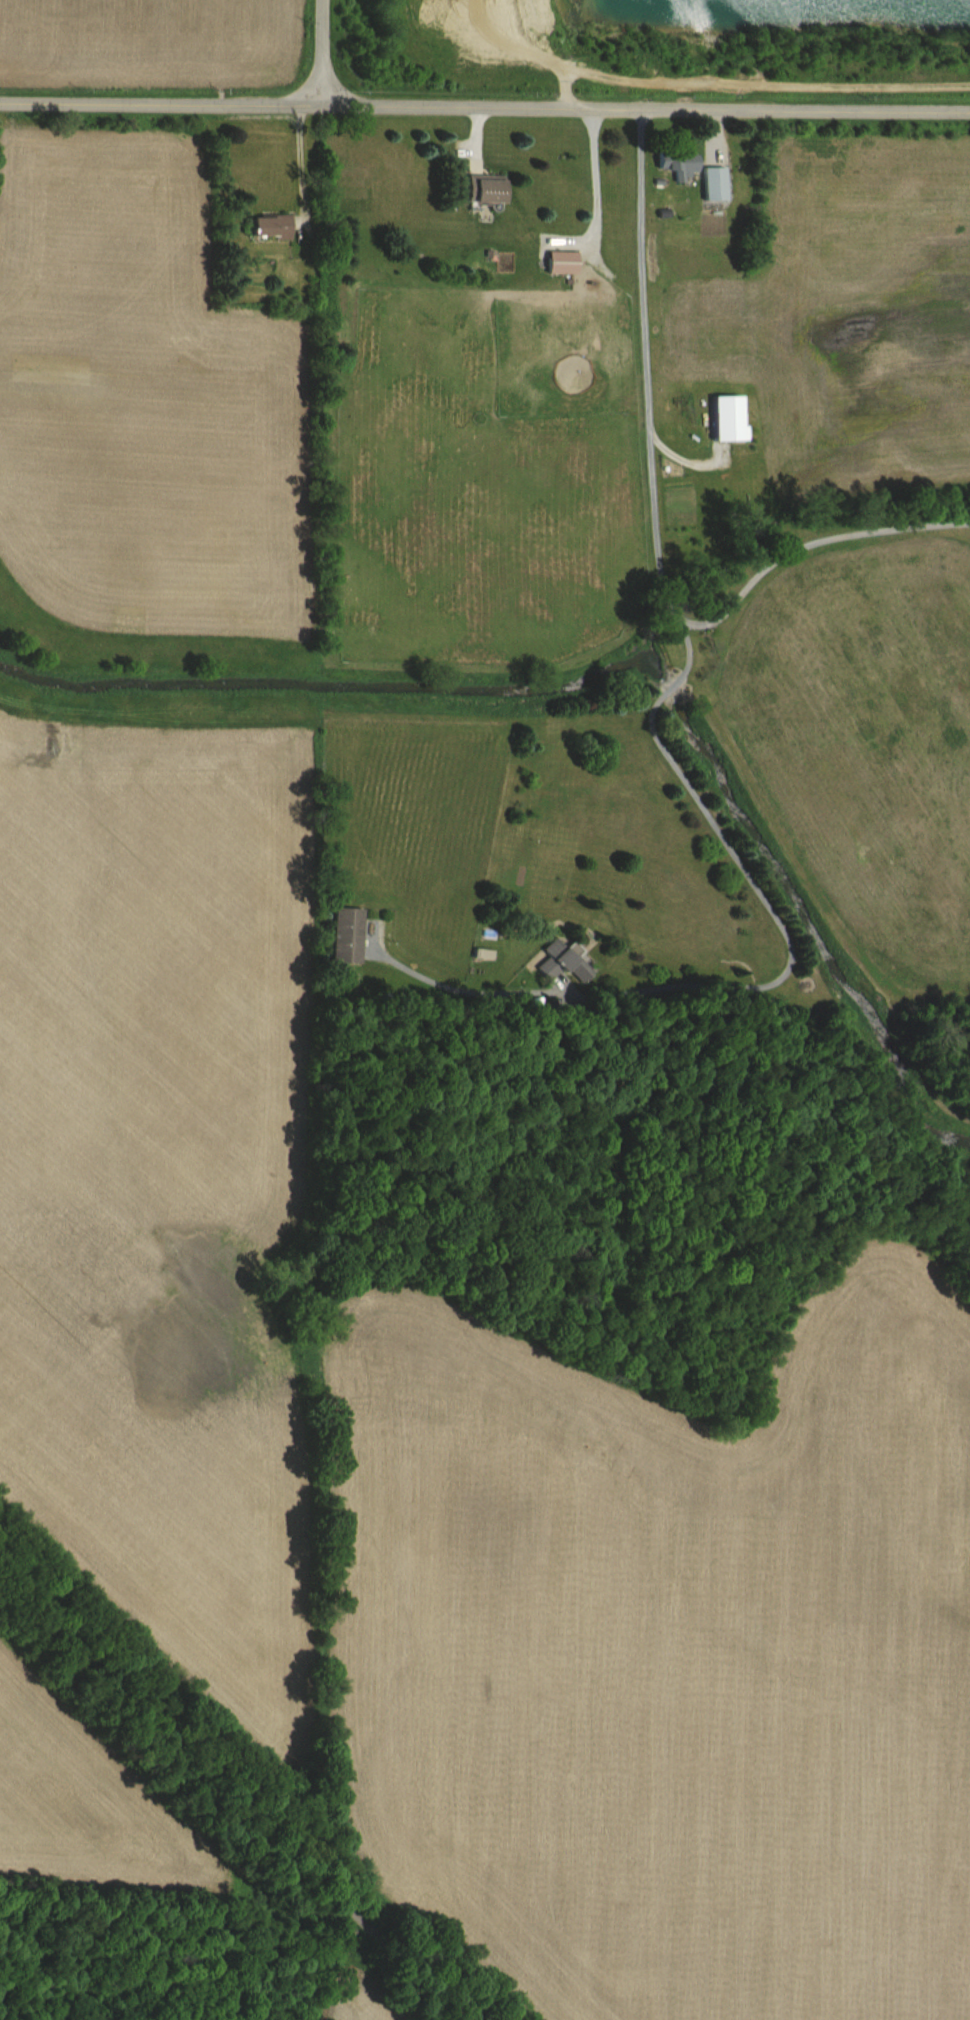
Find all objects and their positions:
road: (315, 51)
road: (803, 86)
road: (485, 106)
road: (302, 161)
building: (676, 162)
road: (595, 179)
building: (711, 183)
building: (481, 189)
building: (267, 226)
building: (559, 261)
road: (649, 366)
building: (728, 420)
road: (691, 463)
road: (812, 544)
building: (349, 936)
building: (561, 961)
road: (784, 977)
road: (232, 1791)

